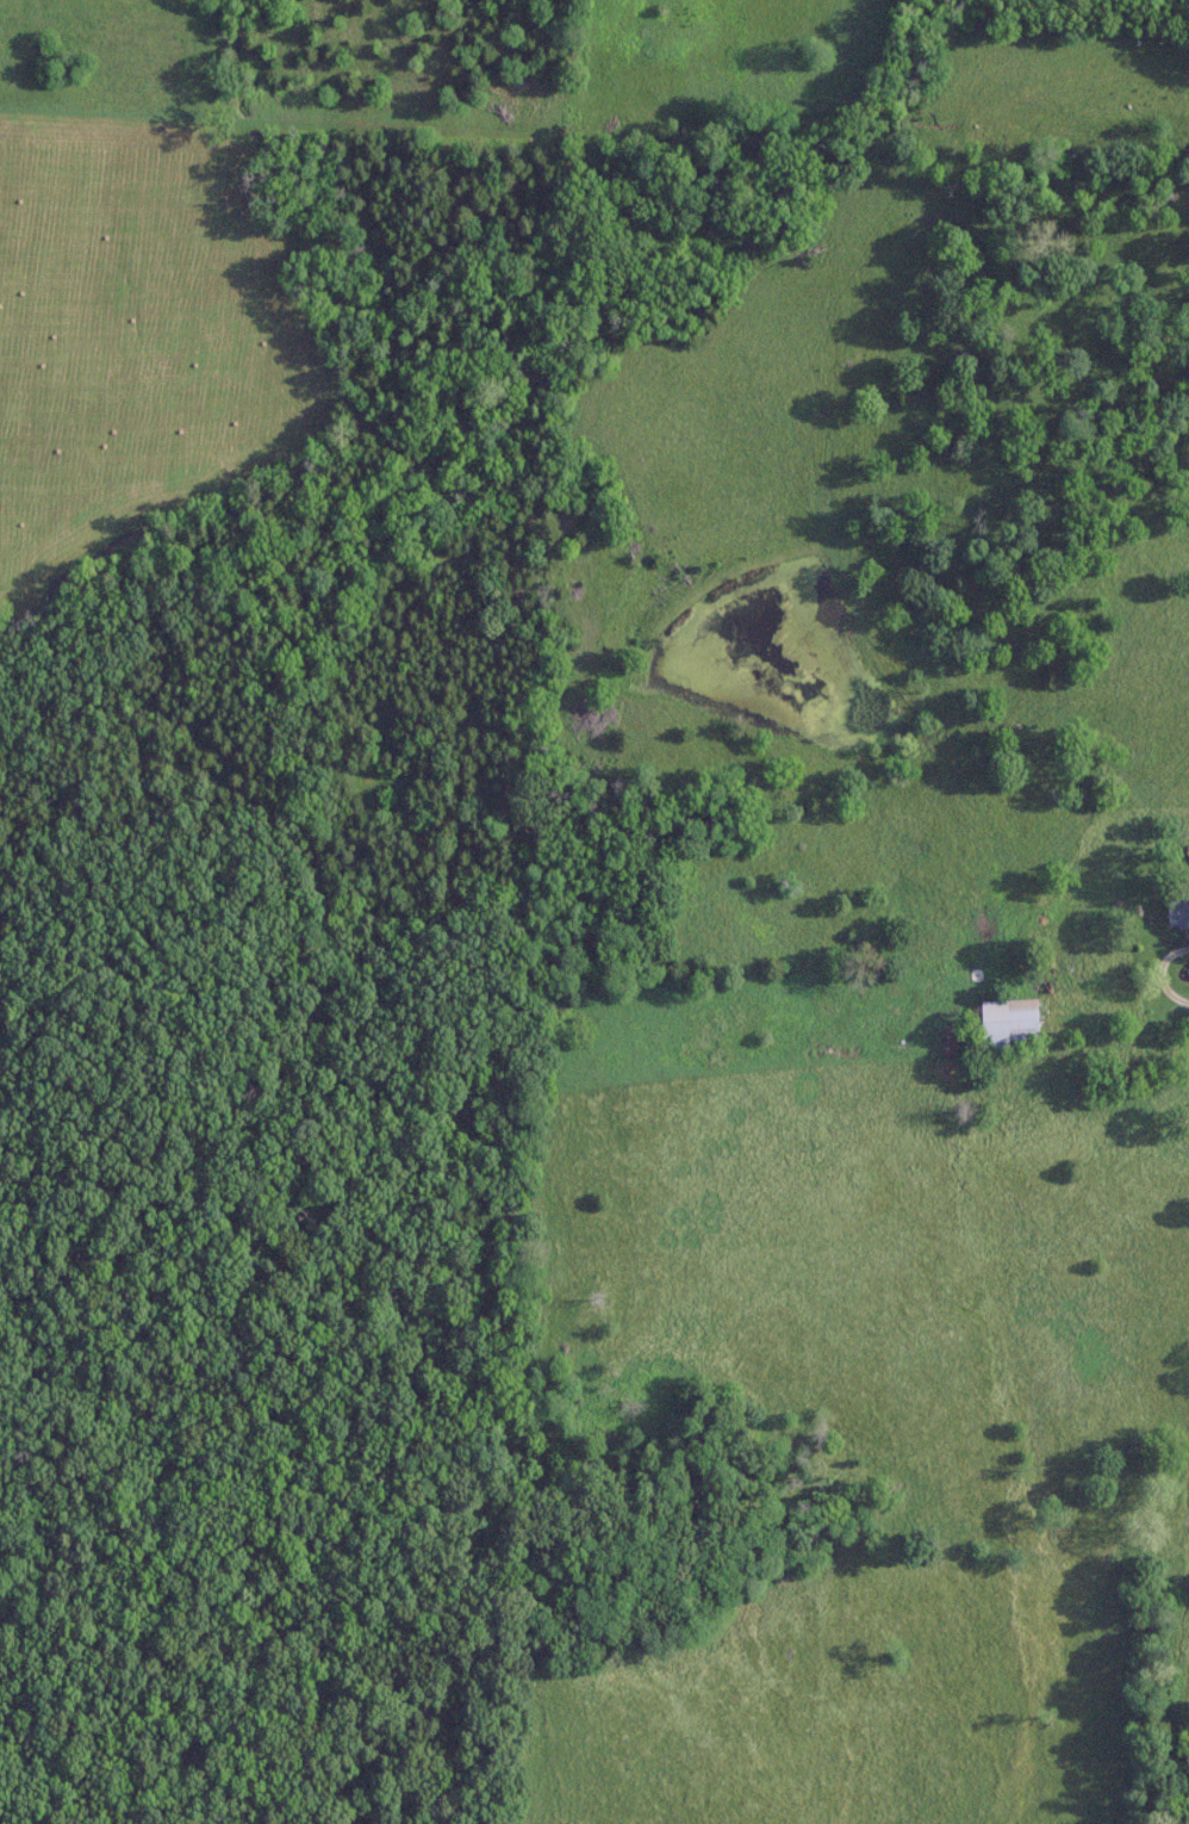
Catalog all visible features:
building: (1176, 911)
road: (1162, 973)
building: (1008, 1023)

